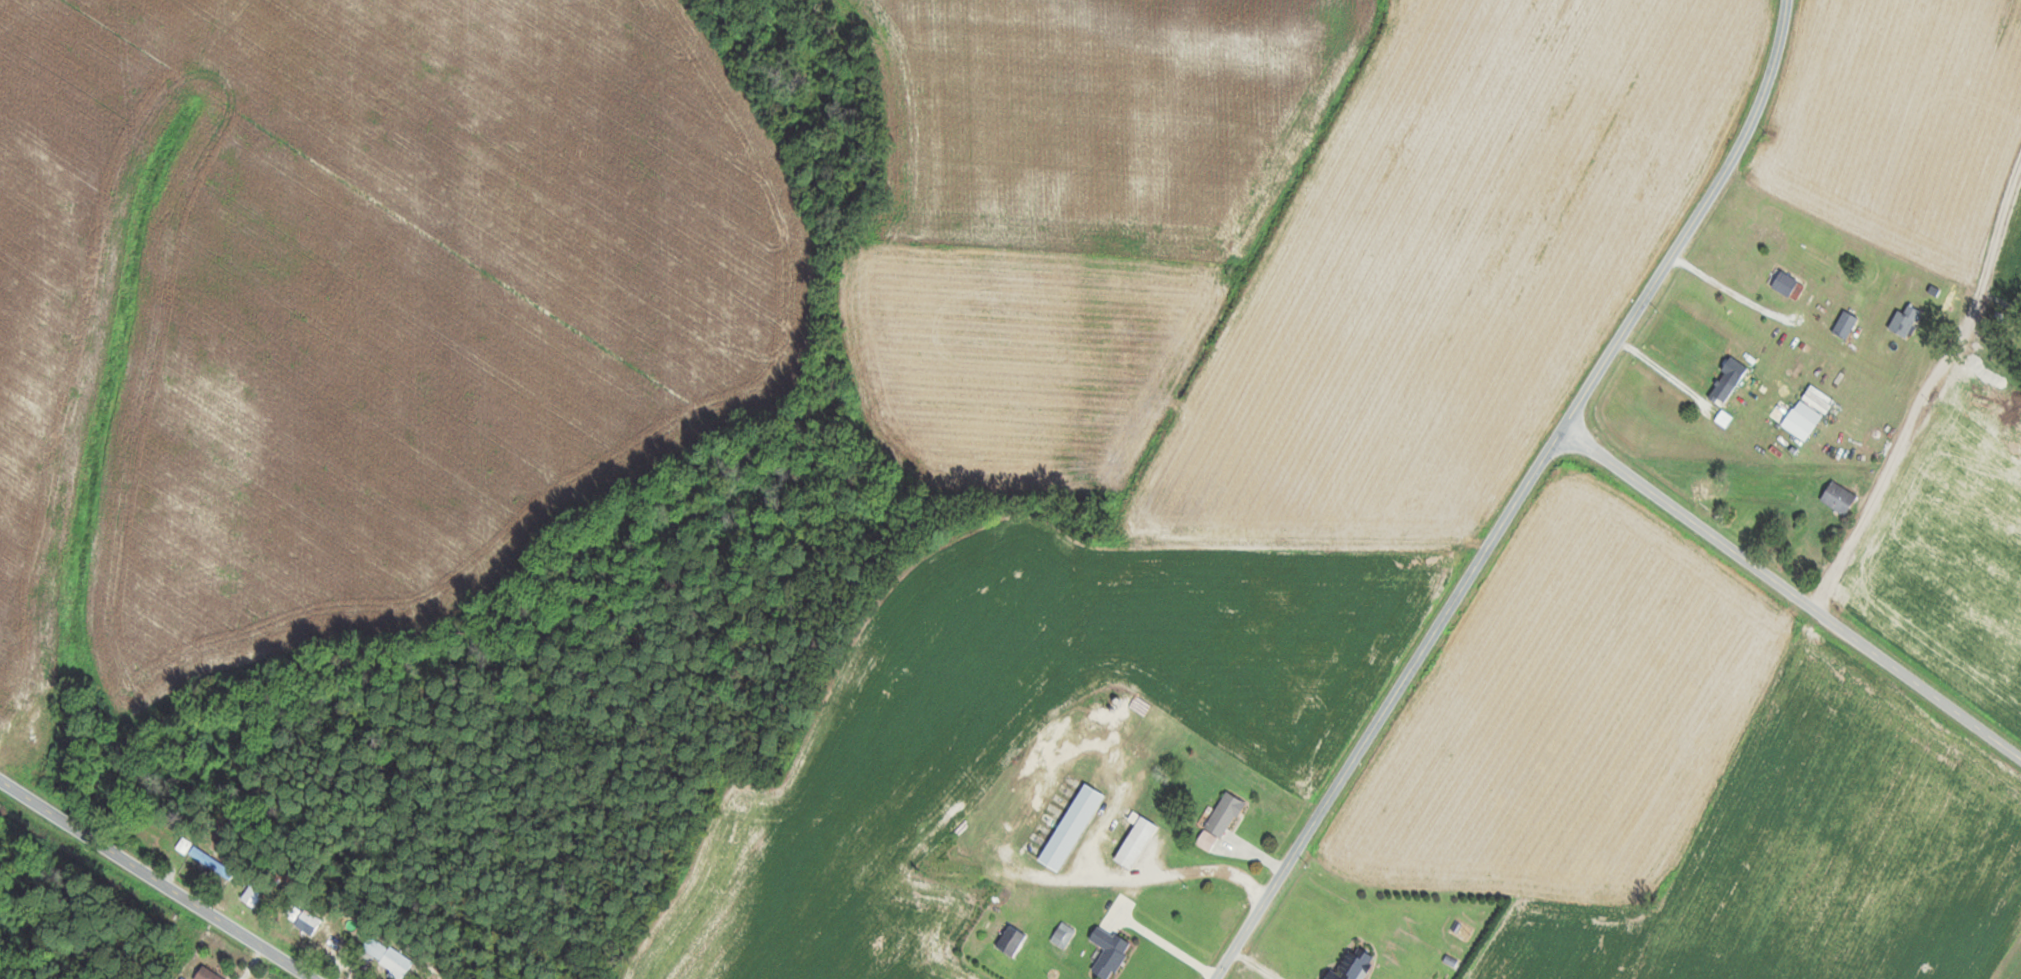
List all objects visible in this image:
building: (1789, 286)
building: (1846, 325)
building: (1718, 392)
road: (1894, 446)
building: (1710, 487)
road: (1516, 496)
building: (1840, 498)
road: (1791, 589)
building: (1220, 823)
building: (1072, 828)
building: (1136, 841)
road: (162, 874)
building: (255, 892)
building: (311, 922)
building: (1063, 935)
building: (1110, 951)
building: (389, 958)
building: (208, 974)
building: (1387, 976)

